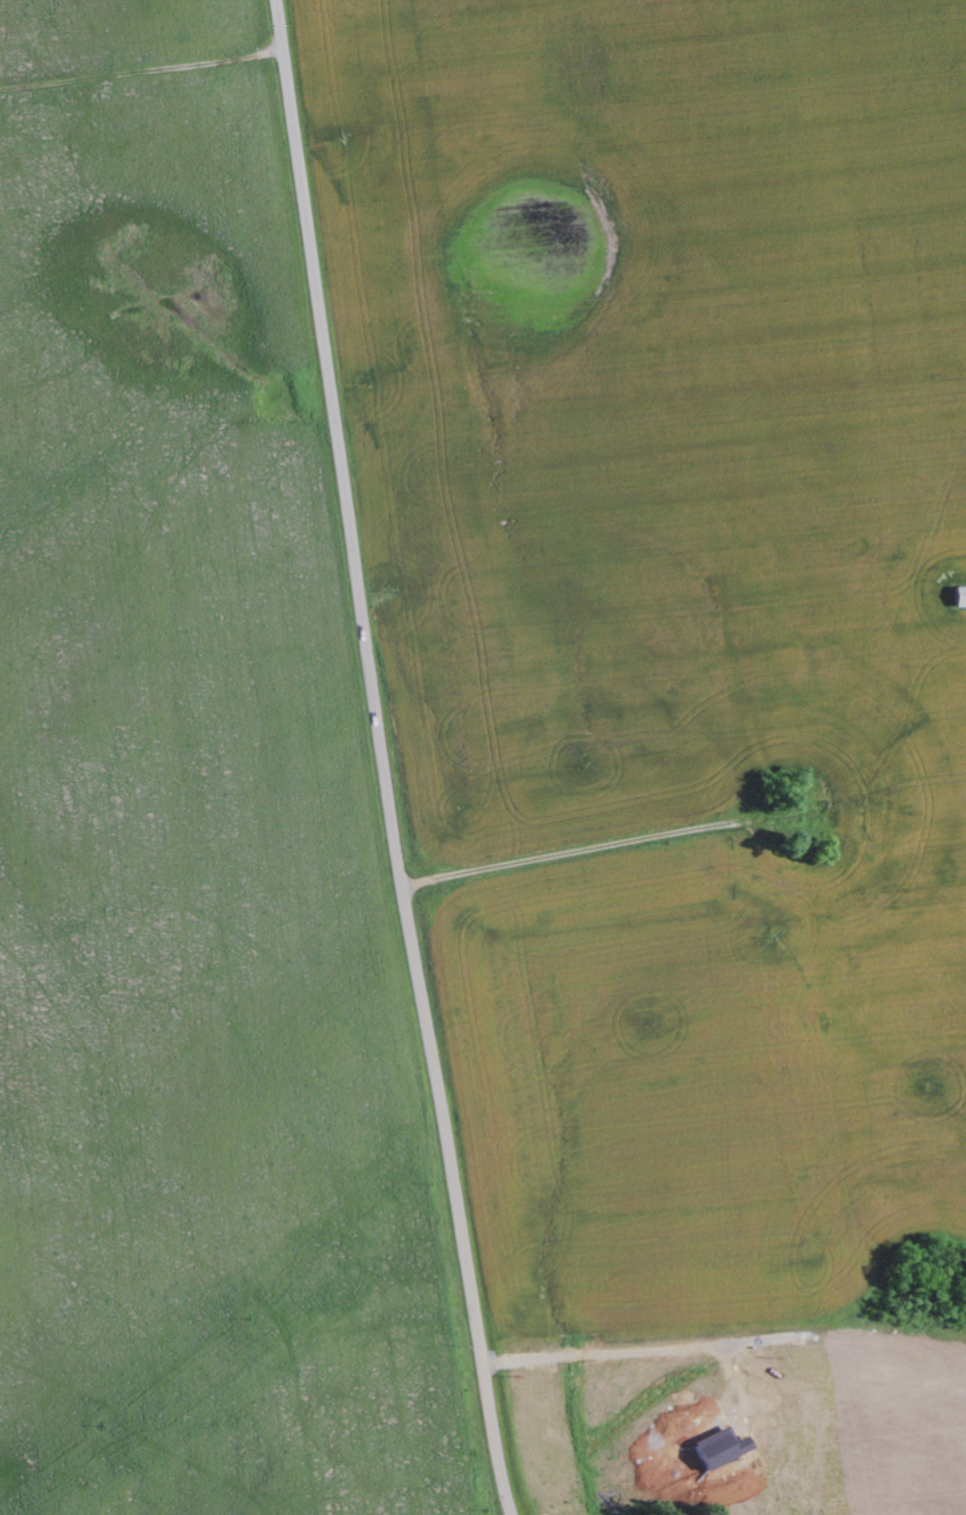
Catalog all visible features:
road: (140, 54)
building: (958, 598)
road: (382, 759)
road: (639, 1353)

